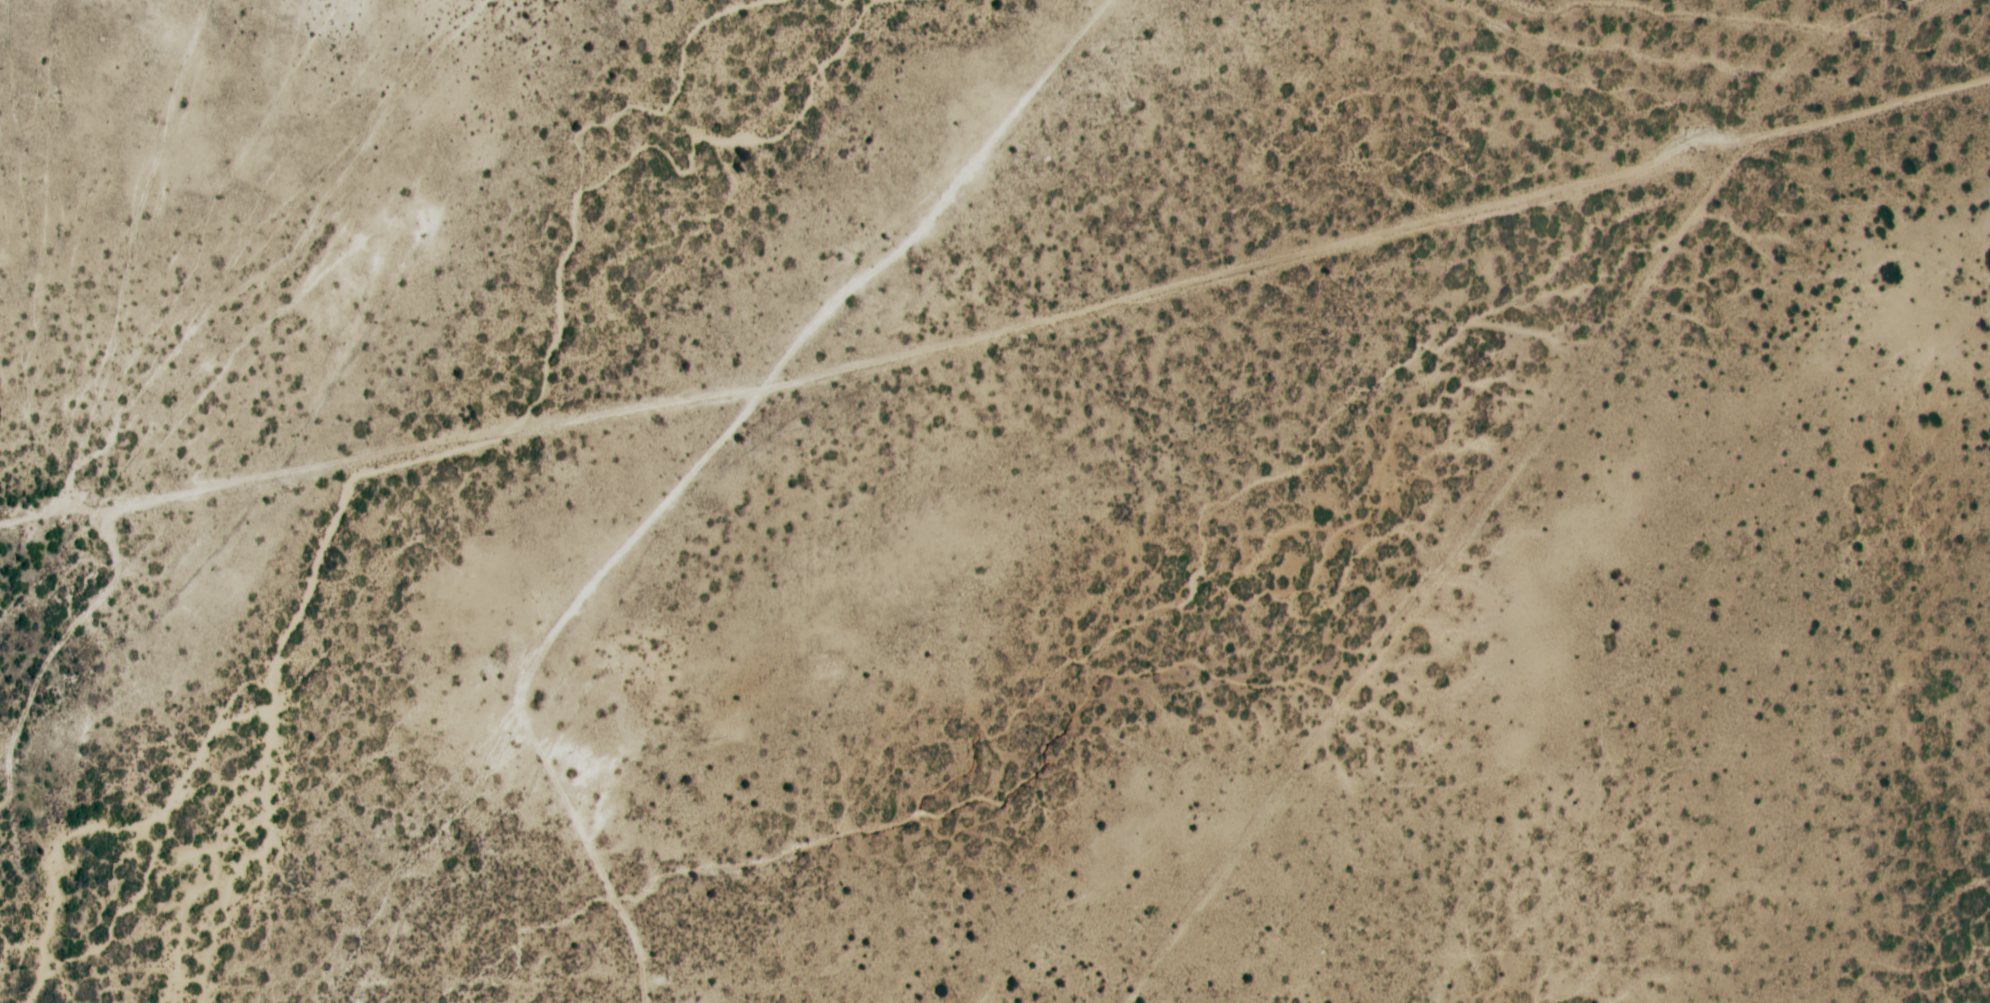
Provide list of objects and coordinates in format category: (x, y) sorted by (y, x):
road: (997, 314)

